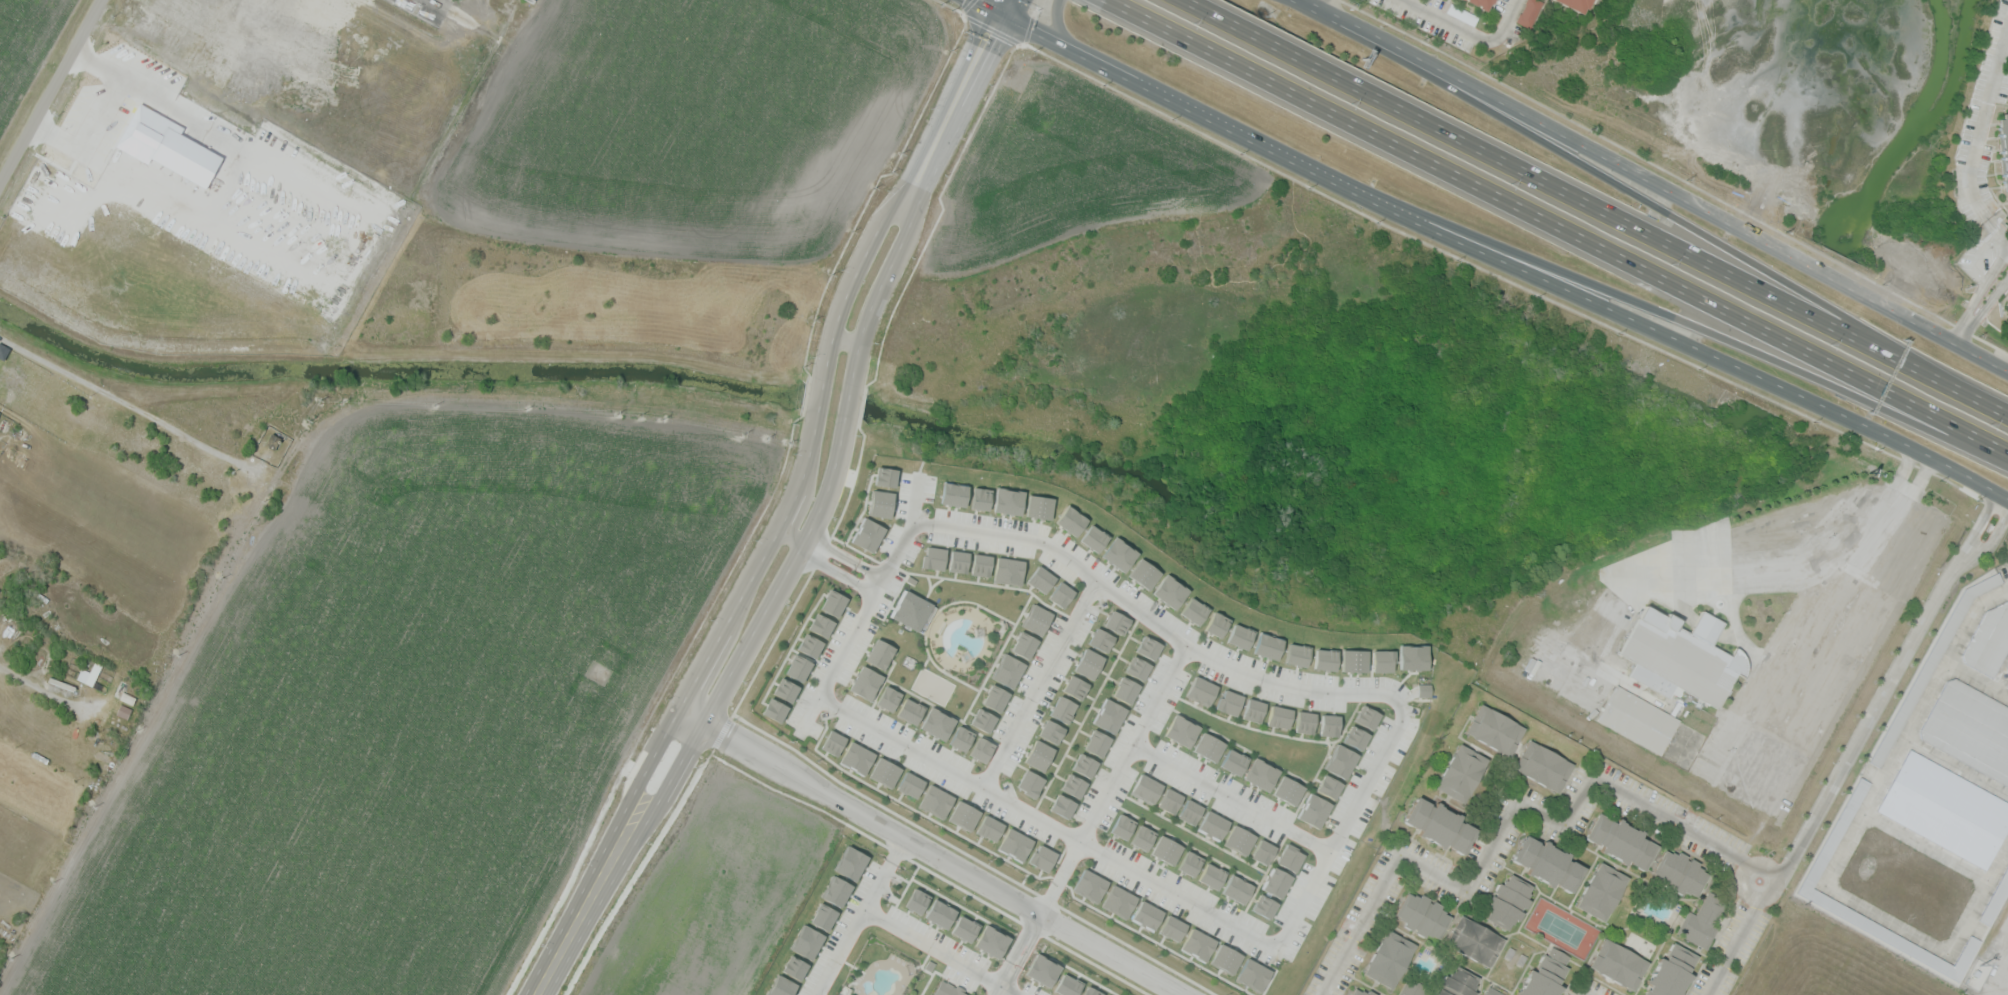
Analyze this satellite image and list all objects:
road: (1097, 3)
building: (1480, 3)
building: (1574, 4)
road: (1329, 5)
road: (989, 6)
road: (1005, 6)
building: (1528, 12)
traffic signals: (1002, 13)
building: (1462, 14)
road: (1347, 21)
road: (1510, 21)
road: (1059, 23)
road: (1448, 23)
road: (1036, 29)
crop: (28, 51)
road: (2004, 56)
road: (49, 89)
road: (953, 108)
road: (109, 117)
road: (1228, 125)
road: (1976, 143)
building: (2003, 147)
crop: (1074, 167)
crop: (471, 170)
road: (1530, 174)
road: (1638, 194)
road: (1699, 206)
road: (1555, 230)
road: (1981, 305)
building: (2005, 306)
road: (1699, 326)
road: (1655, 328)
road: (844, 339)
road: (824, 354)
road: (855, 371)
road: (1947, 379)
road: (137, 411)
road: (1965, 474)
building: (886, 476)
building: (955, 493)
road: (916, 498)
building: (980, 498)
road: (2007, 499)
building: (1007, 500)
building: (881, 502)
building: (1039, 507)
building: (1070, 520)
road: (793, 532)
building: (868, 534)
building: (1093, 538)
road: (846, 554)
building: (1119, 554)
building: (933, 558)
building: (958, 561)
building: (981, 564)
road: (1817, 566)
road: (837, 570)
building: (1007, 570)
building: (1143, 574)
building: (1040, 579)
building: (1169, 591)
building: (1060, 594)
building: (808, 601)
building: (833, 602)
road: (867, 608)
building: (911, 609)
building: (1193, 611)
road: (1969, 618)
building: (1036, 619)
road: (1152, 620)
building: (1116, 622)
building: (1216, 624)
building: (820, 625)
building: (1239, 635)
building: (1099, 640)
building: (1988, 640)
building: (1024, 644)
building: (809, 645)
building: (1267, 646)
building: (1147, 647)
building: (879, 653)
building: (1296, 654)
building: (1412, 656)
building: (1682, 656)
building: (1324, 659)
building: (1353, 660)
building: (1381, 660)
building: (1088, 663)
building: (1930, 664)
building: (798, 667)
building: (1137, 668)
building: (1007, 670)
building: (90, 671)
building: (865, 682)
road: (1041, 684)
road: (1887, 685)
building: (2007, 685)
building: (1074, 687)
road: (42, 689)
building: (785, 689)
building: (1423, 689)
building: (1125, 690)
building: (1201, 690)
building: (888, 698)
building: (995, 698)
road: (828, 700)
building: (1228, 702)
road: (1401, 704)
building: (774, 709)
building: (1062, 709)
building: (909, 710)
building: (1252, 710)
building: (1109, 715)
building: (1278, 716)
building: (1365, 716)
building: (982, 719)
building: (1639, 719)
building: (1304, 722)
building: (937, 723)
building: (1329, 725)
building: (1970, 728)
building: (1494, 729)
building: (1050, 731)
building: (1181, 731)
crop: (448, 734)
building: (1354, 737)
building: (961, 738)
building: (832, 742)
building: (1096, 743)
building: (1208, 747)
building: (981, 749)
building: (1038, 754)
building: (856, 757)
road: (649, 759)
building: (1339, 760)
building: (1233, 762)
building: (1084, 765)
building: (1542, 765)
road: (677, 767)
building: (884, 772)
building: (1461, 773)
building: (1261, 774)
road: (1114, 779)
building: (1029, 783)
building: (910, 784)
building: (1073, 785)
building: (1328, 786)
building: (1146, 788)
building: (1287, 790)
road: (1232, 797)
building: (1169, 800)
building: (935, 801)
building: (1062, 806)
building: (1945, 808)
building: (1313, 810)
building: (1189, 811)
building: (963, 815)
road: (1504, 821)
building: (1212, 824)
building: (1439, 825)
road: (1057, 826)
building: (1121, 826)
building: (989, 827)
road: (1340, 833)
building: (1835, 834)
building: (1142, 837)
building: (1238, 839)
building: (1621, 840)
building: (1014, 843)
building: (1165, 849)
road: (933, 851)
building: (1262, 851)
building: (1042, 857)
building: (1289, 857)
road: (1837, 860)
building: (850, 863)
building: (1189, 863)
building: (1548, 863)
road: (1767, 864)
building: (1678, 872)
building: (1211, 875)
building: (1275, 882)
building: (1089, 885)
building: (1236, 889)
building: (836, 890)
building: (1602, 891)
building: (1995, 899)
building: (916, 900)
building: (1118, 901)
building: (1508, 901)
building: (1263, 906)
building: (940, 913)
road: (859, 914)
building: (1421, 914)
building: (1146, 915)
building: (823, 916)
building: (1701, 921)
building: (1171, 927)
park: (1561, 927)
building: (964, 928)
building: (807, 941)
building: (991, 941)
building: (1473, 941)
building: (1197, 944)
road: (1734, 946)
road: (941, 951)
road: (1019, 954)
building: (1225, 958)
building: (1389, 958)
building: (1617, 963)
building: (794, 966)
building: (1042, 969)
building: (1671, 972)
building: (1252, 974)
building: (1544, 975)
building: (1460, 980)
building: (1067, 985)
building: (781, 986)
building: (1412, 988)
building: (947, 989)
building: (1091, 991)
building: (1360, 991)
building: (1492, 991)
building: (1442, 992)

